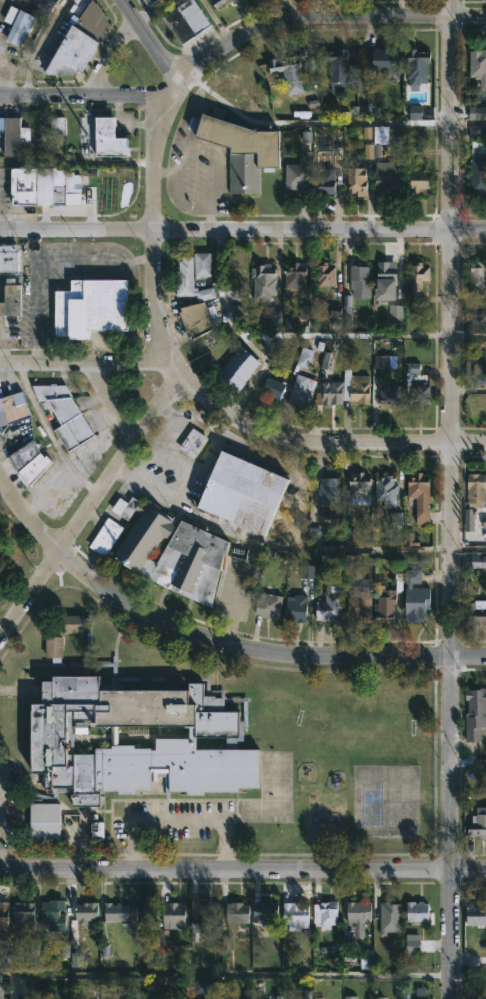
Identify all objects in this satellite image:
building: (149, 1)
building: (220, 2)
building: (41, 4)
road: (327, 18)
road: (216, 19)
building: (186, 21)
building: (18, 25)
building: (79, 42)
road: (148, 44)
building: (387, 60)
building: (478, 66)
building: (418, 67)
building: (339, 69)
building: (287, 76)
road: (88, 95)
building: (414, 112)
building: (477, 113)
road: (467, 121)
road: (311, 123)
building: (58, 130)
building: (13, 136)
road: (190, 138)
building: (109, 139)
building: (477, 141)
building: (383, 143)
building: (240, 150)
building: (368, 151)
road: (210, 168)
building: (478, 169)
building: (387, 177)
building: (297, 178)
building: (356, 181)
building: (325, 182)
building: (418, 182)
building: (43, 186)
road: (178, 204)
road: (209, 219)
road: (242, 229)
road: (163, 235)
building: (8, 258)
road: (101, 262)
building: (202, 263)
building: (295, 274)
building: (325, 274)
building: (386, 274)
building: (359, 275)
building: (418, 276)
building: (478, 277)
building: (190, 280)
building: (263, 281)
building: (11, 301)
building: (346, 305)
building: (91, 309)
road: (36, 314)
building: (395, 314)
building: (195, 318)
building: (275, 318)
building: (476, 321)
road: (449, 329)
road: (237, 334)
road: (344, 335)
road: (468, 336)
road: (265, 348)
building: (304, 357)
building: (384, 362)
building: (241, 364)
building: (479, 367)
road: (85, 370)
building: (356, 386)
building: (273, 387)
building: (416, 388)
building: (300, 391)
building: (332, 392)
building: (389, 396)
building: (13, 407)
building: (65, 414)
road: (50, 437)
road: (330, 440)
building: (192, 441)
building: (28, 462)
road: (197, 463)
building: (477, 489)
building: (244, 491)
building: (357, 491)
building: (389, 491)
building: (420, 495)
building: (329, 496)
road: (90, 509)
building: (395, 517)
road: (26, 518)
building: (468, 520)
building: (104, 535)
building: (350, 538)
road: (277, 544)
building: (170, 549)
road: (468, 549)
building: (351, 561)
building: (478, 561)
building: (306, 571)
building: (416, 596)
building: (388, 600)
building: (269, 603)
building: (359, 604)
building: (329, 605)
building: (296, 608)
building: (474, 612)
road: (240, 647)
road: (468, 659)
building: (475, 714)
building: (215, 730)
road: (468, 762)
park: (368, 799)
park: (401, 799)
road: (178, 820)
building: (479, 825)
road: (450, 829)
building: (96, 830)
road: (0, 838)
road: (243, 867)
building: (391, 907)
building: (417, 911)
building: (86, 912)
building: (119, 912)
building: (208, 913)
building: (237, 913)
building: (265, 913)
building: (326, 913)
building: (295, 914)
building: (173, 915)
building: (23, 916)
building: (51, 917)
building: (358, 917)
building: (474, 919)
building: (3, 923)
building: (412, 943)
building: (76, 960)
road: (224, 976)
road: (467, 976)
building: (1, 986)
building: (207, 986)
building: (349, 997)

